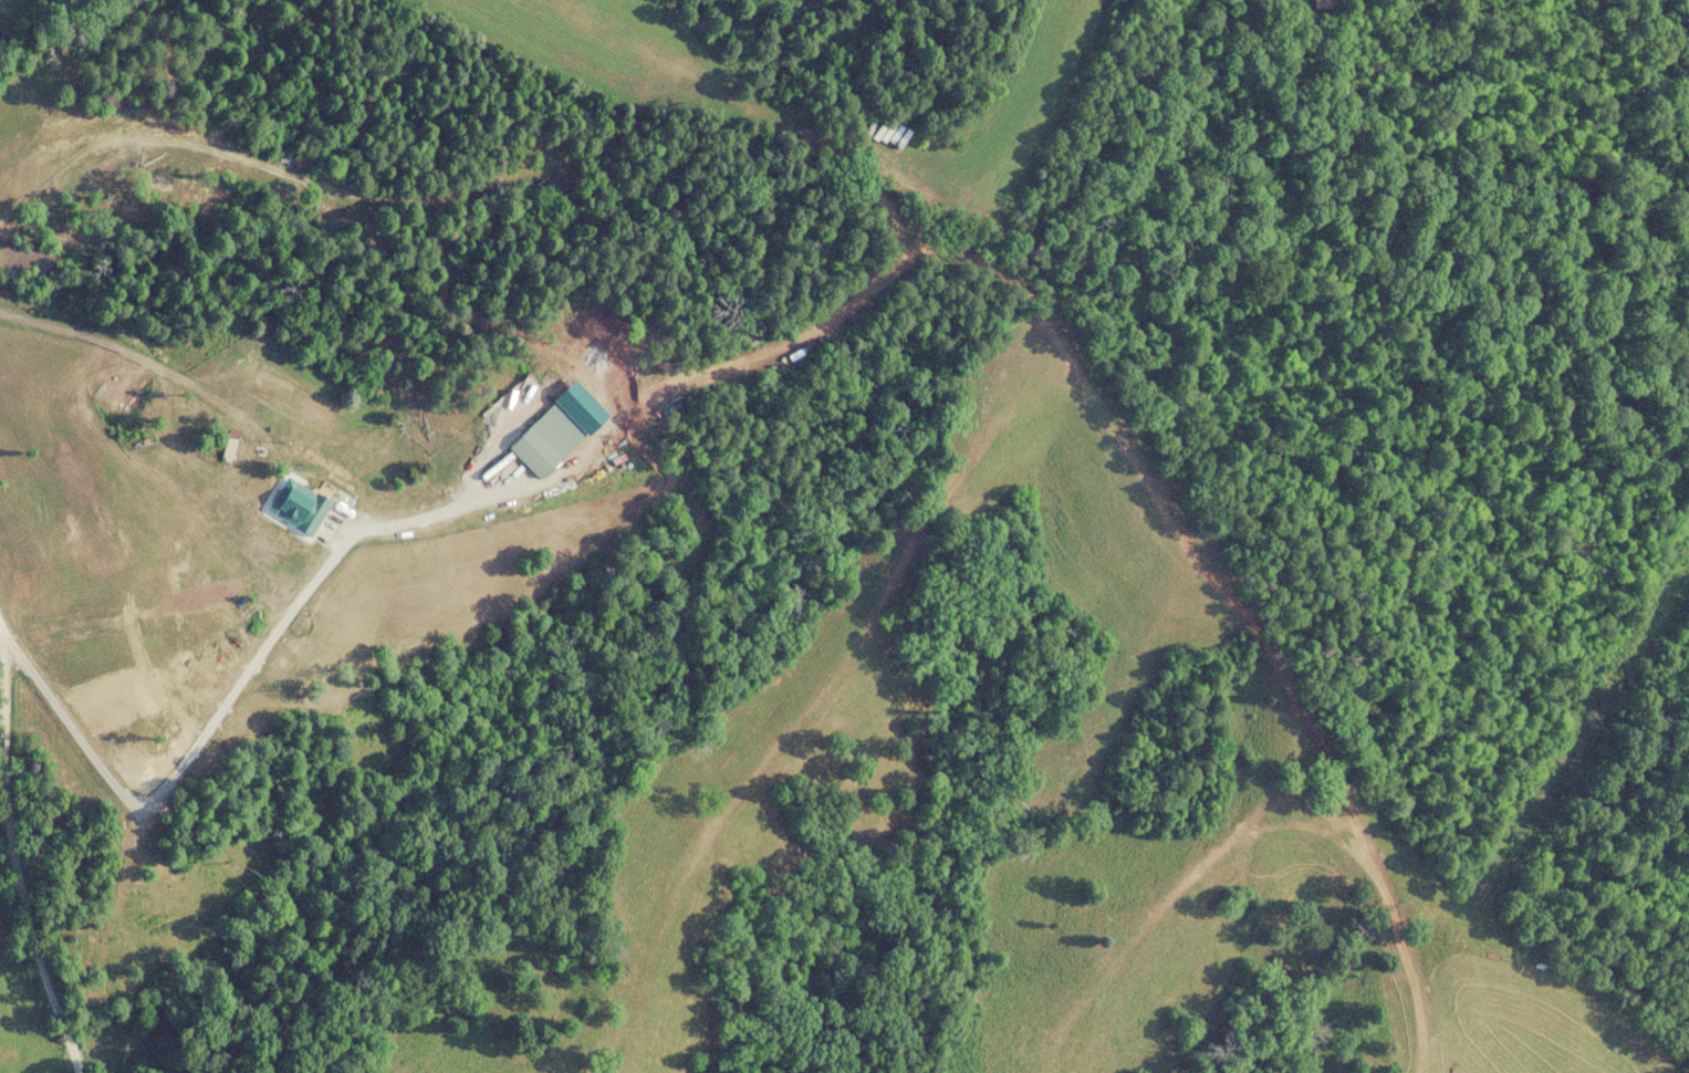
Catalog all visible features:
building: (550, 441)
road: (29, 941)

